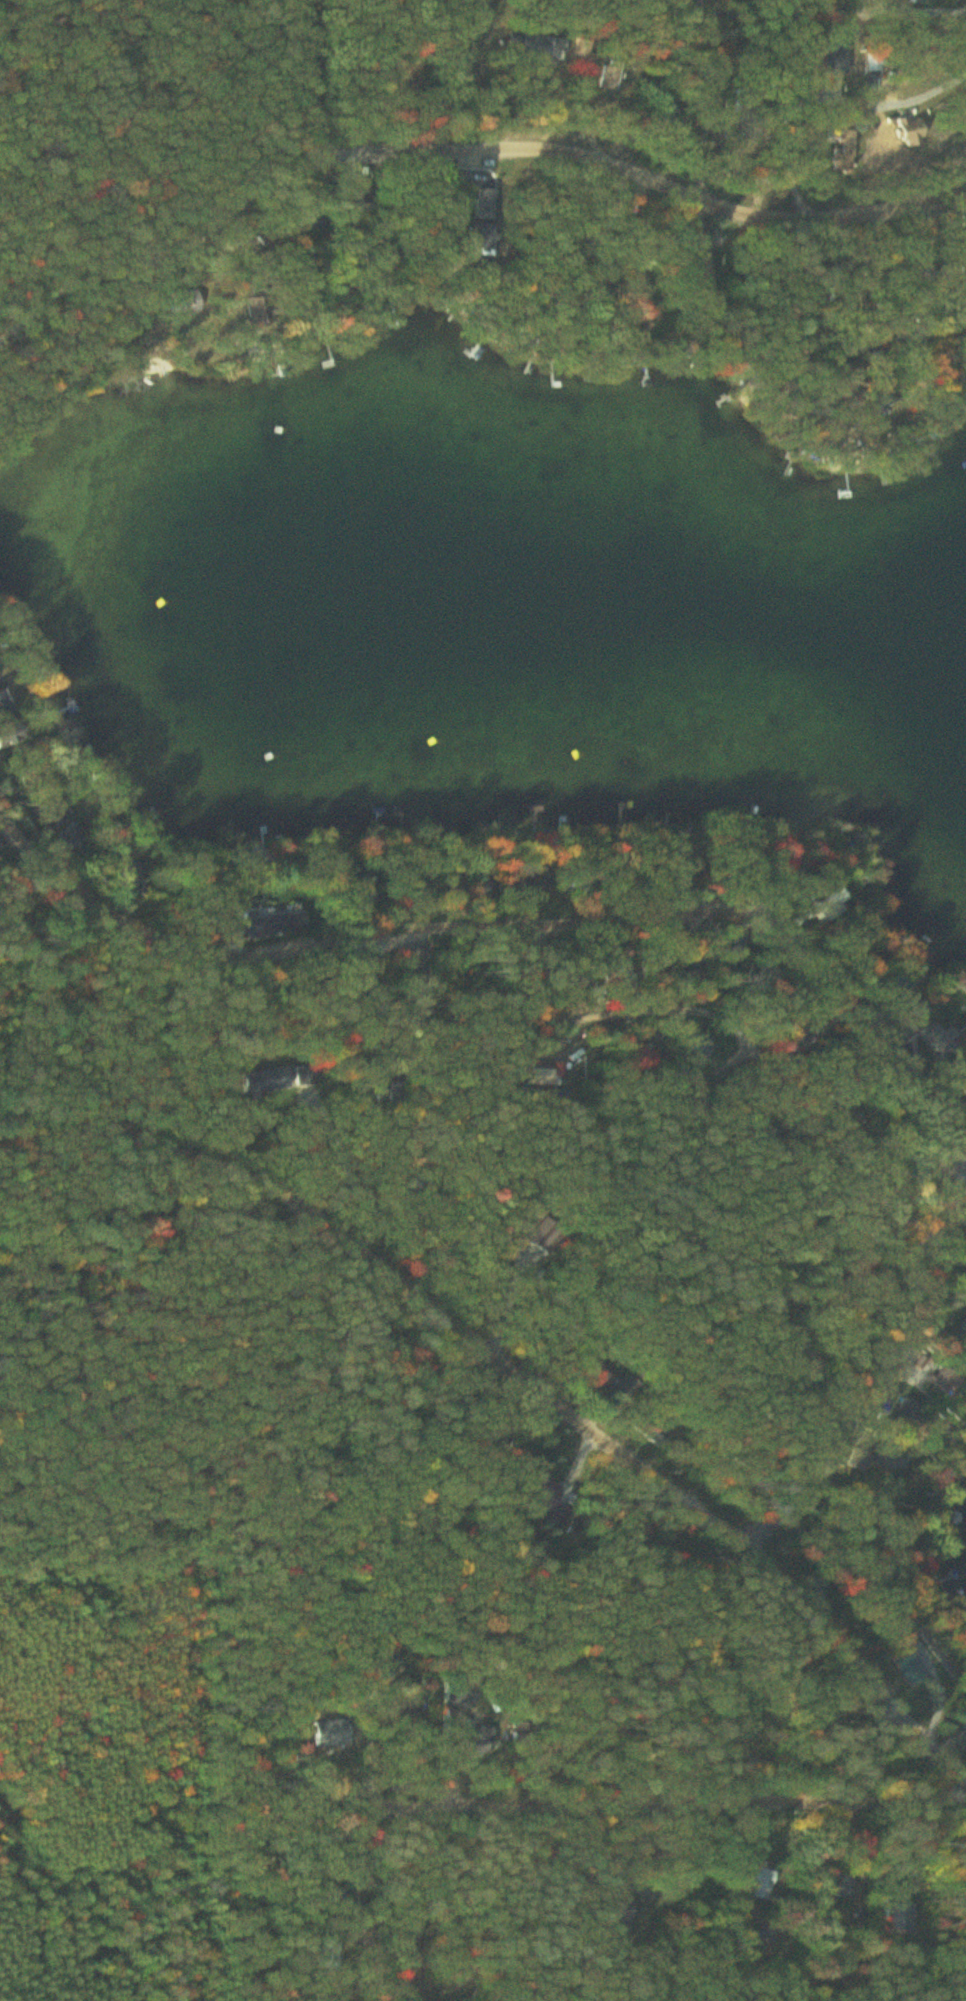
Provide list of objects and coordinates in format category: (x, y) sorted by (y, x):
building: (543, 48)
building: (839, 59)
building: (612, 77)
road: (640, 79)
road: (304, 132)
road: (230, 134)
road: (641, 153)
building: (487, 241)
building: (4, 706)
building: (14, 733)
road: (732, 904)
building: (271, 927)
building: (944, 1039)
building: (699, 1051)
building: (643, 1058)
building: (269, 1081)
road: (845, 1145)
building: (541, 1237)
building: (944, 1341)
road: (527, 1365)
building: (911, 1417)
building: (878, 1460)
building: (554, 1500)
building: (884, 1504)
building: (911, 1668)
building: (335, 1732)
road: (670, 1798)
road: (10, 1848)
building: (765, 1882)
building: (621, 1916)

